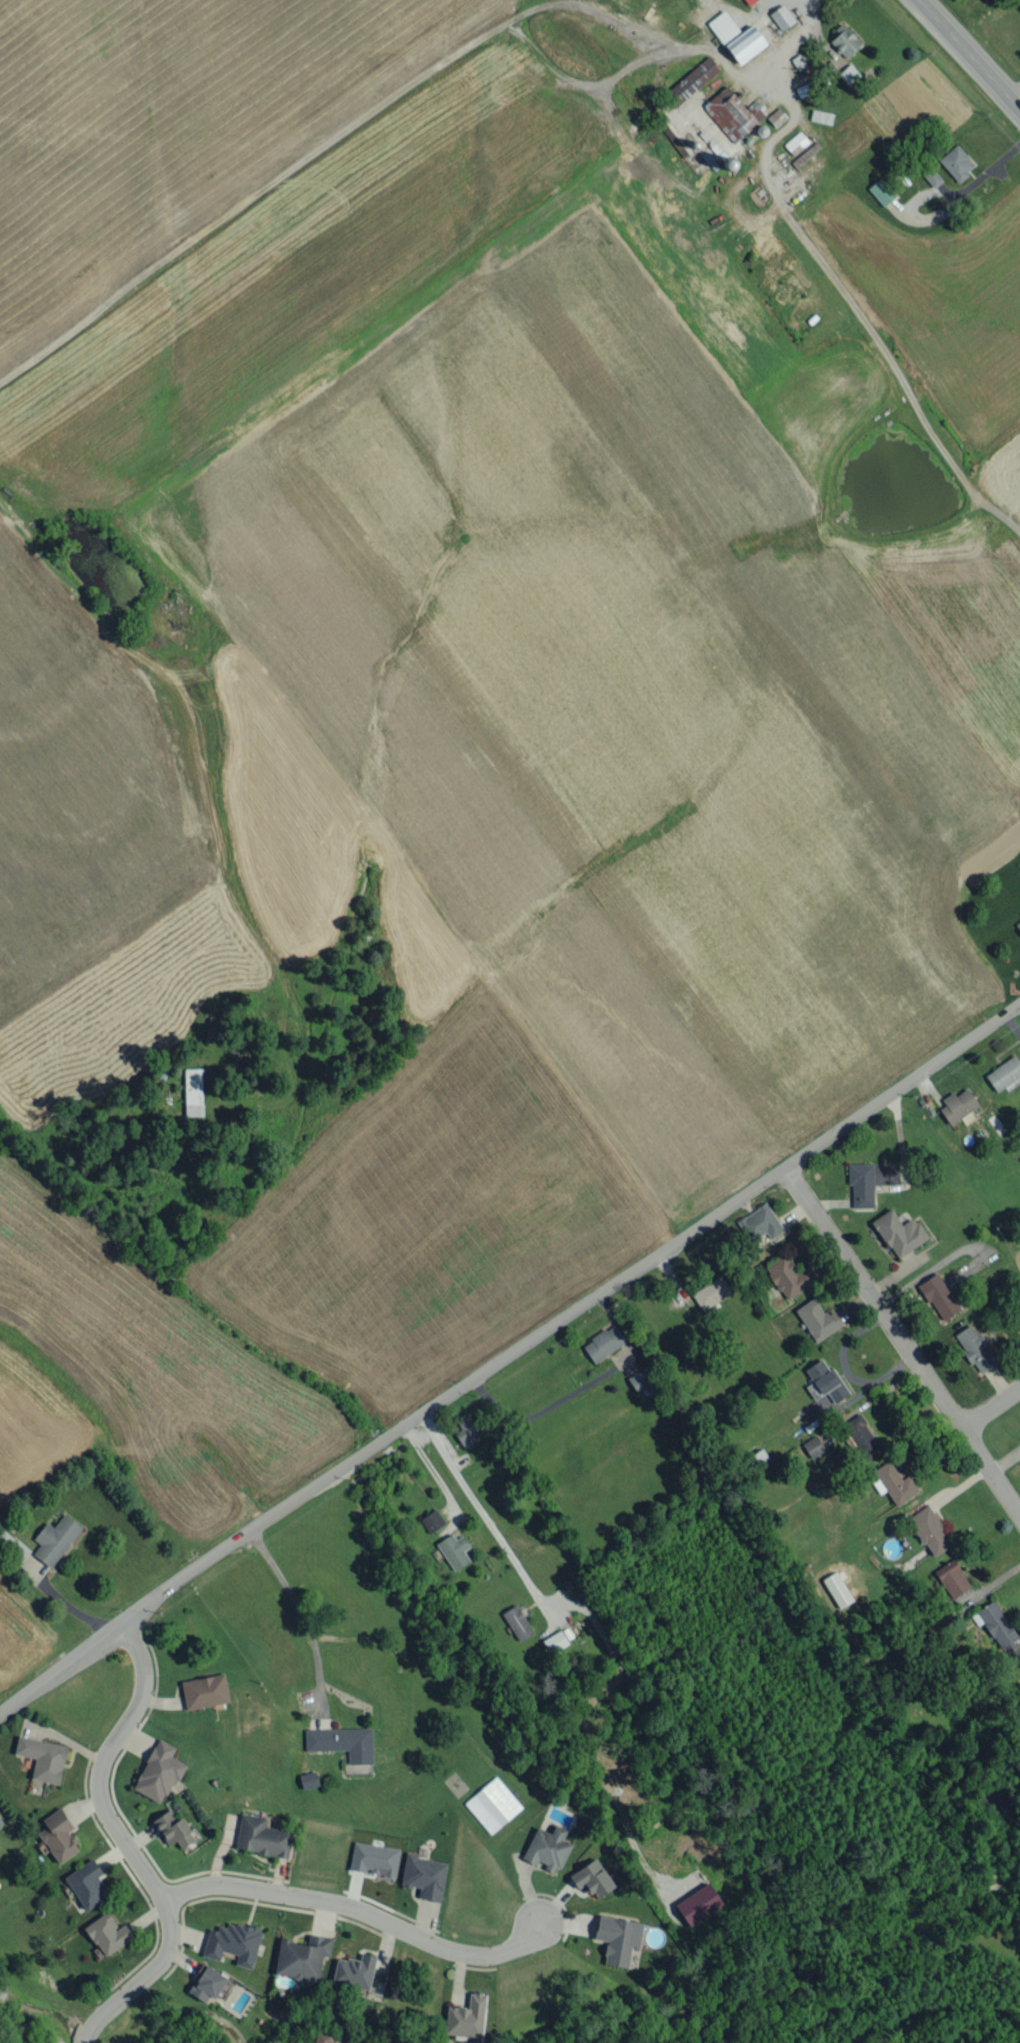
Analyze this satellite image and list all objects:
building: (749, 1)
building: (781, 17)
building: (723, 26)
building: (844, 41)
building: (745, 44)
road: (969, 55)
building: (848, 74)
building: (691, 81)
road: (410, 92)
road: (1014, 93)
building: (730, 113)
building: (777, 115)
building: (821, 116)
building: (796, 142)
building: (956, 162)
building: (931, 176)
building: (881, 191)
road: (855, 310)
building: (1018, 924)
building: (1004, 1074)
building: (192, 1091)
building: (957, 1105)
building: (869, 1180)
building: (759, 1223)
building: (898, 1232)
building: (787, 1276)
building: (710, 1292)
building: (938, 1296)
building: (817, 1319)
building: (1018, 1322)
road: (904, 1340)
building: (603, 1342)
building: (974, 1348)
road: (507, 1358)
road: (845, 1369)
building: (641, 1378)
road: (581, 1386)
building: (827, 1386)
road: (990, 1407)
building: (466, 1430)
building: (862, 1437)
building: (813, 1446)
building: (753, 1459)
road: (430, 1470)
building: (893, 1483)
road: (483, 1512)
building: (432, 1520)
building: (929, 1530)
building: (54, 1539)
building: (12, 1546)
building: (453, 1550)
building: (951, 1578)
building: (837, 1589)
road: (64, 1603)
road: (294, 1603)
building: (517, 1622)
building: (996, 1624)
building: (555, 1641)
building: (204, 1691)
building: (341, 1742)
building: (42, 1758)
building: (159, 1771)
building: (0, 1824)
building: (173, 1829)
building: (58, 1835)
building: (261, 1837)
road: (129, 1843)
building: (547, 1847)
building: (374, 1859)
building: (423, 1876)
building: (592, 1878)
building: (86, 1883)
building: (698, 1904)
road: (367, 1913)
building: (107, 1933)
building: (617, 1938)
building: (232, 1942)
building: (302, 1957)
building: (354, 1971)
building: (205, 1983)
building: (466, 2017)
building: (322, 2037)

